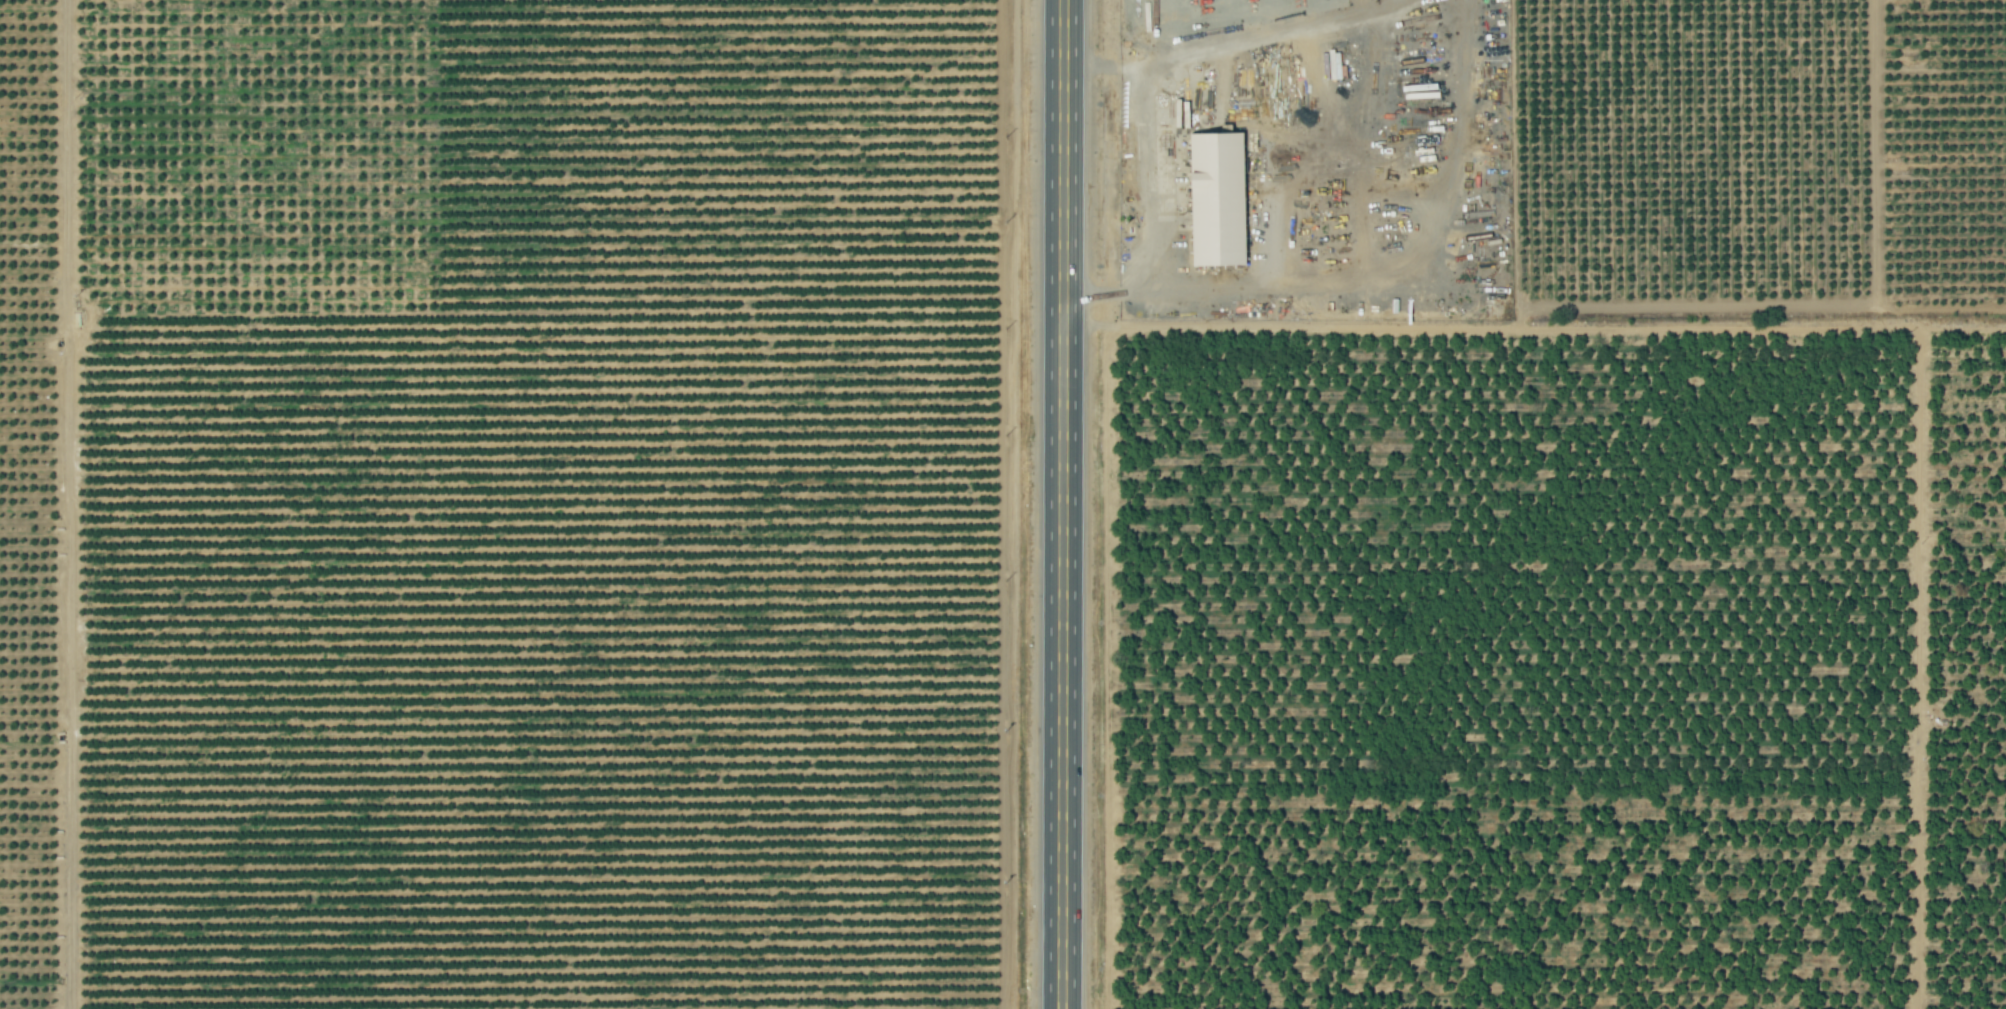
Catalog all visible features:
road: (1173, 29)
road: (1237, 45)
building: (1335, 67)
building: (1217, 201)
road: (1149, 214)
road: (1060, 504)

